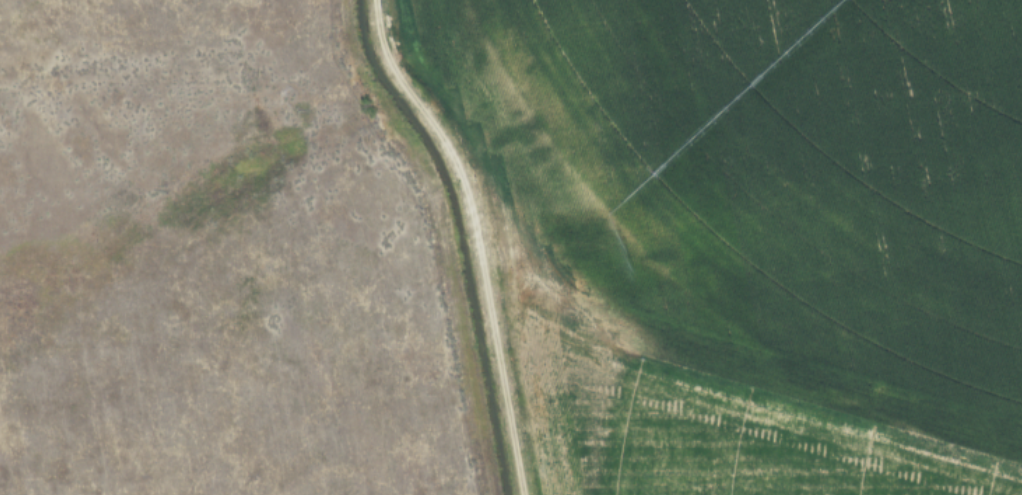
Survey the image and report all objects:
crop: (767, 239)

